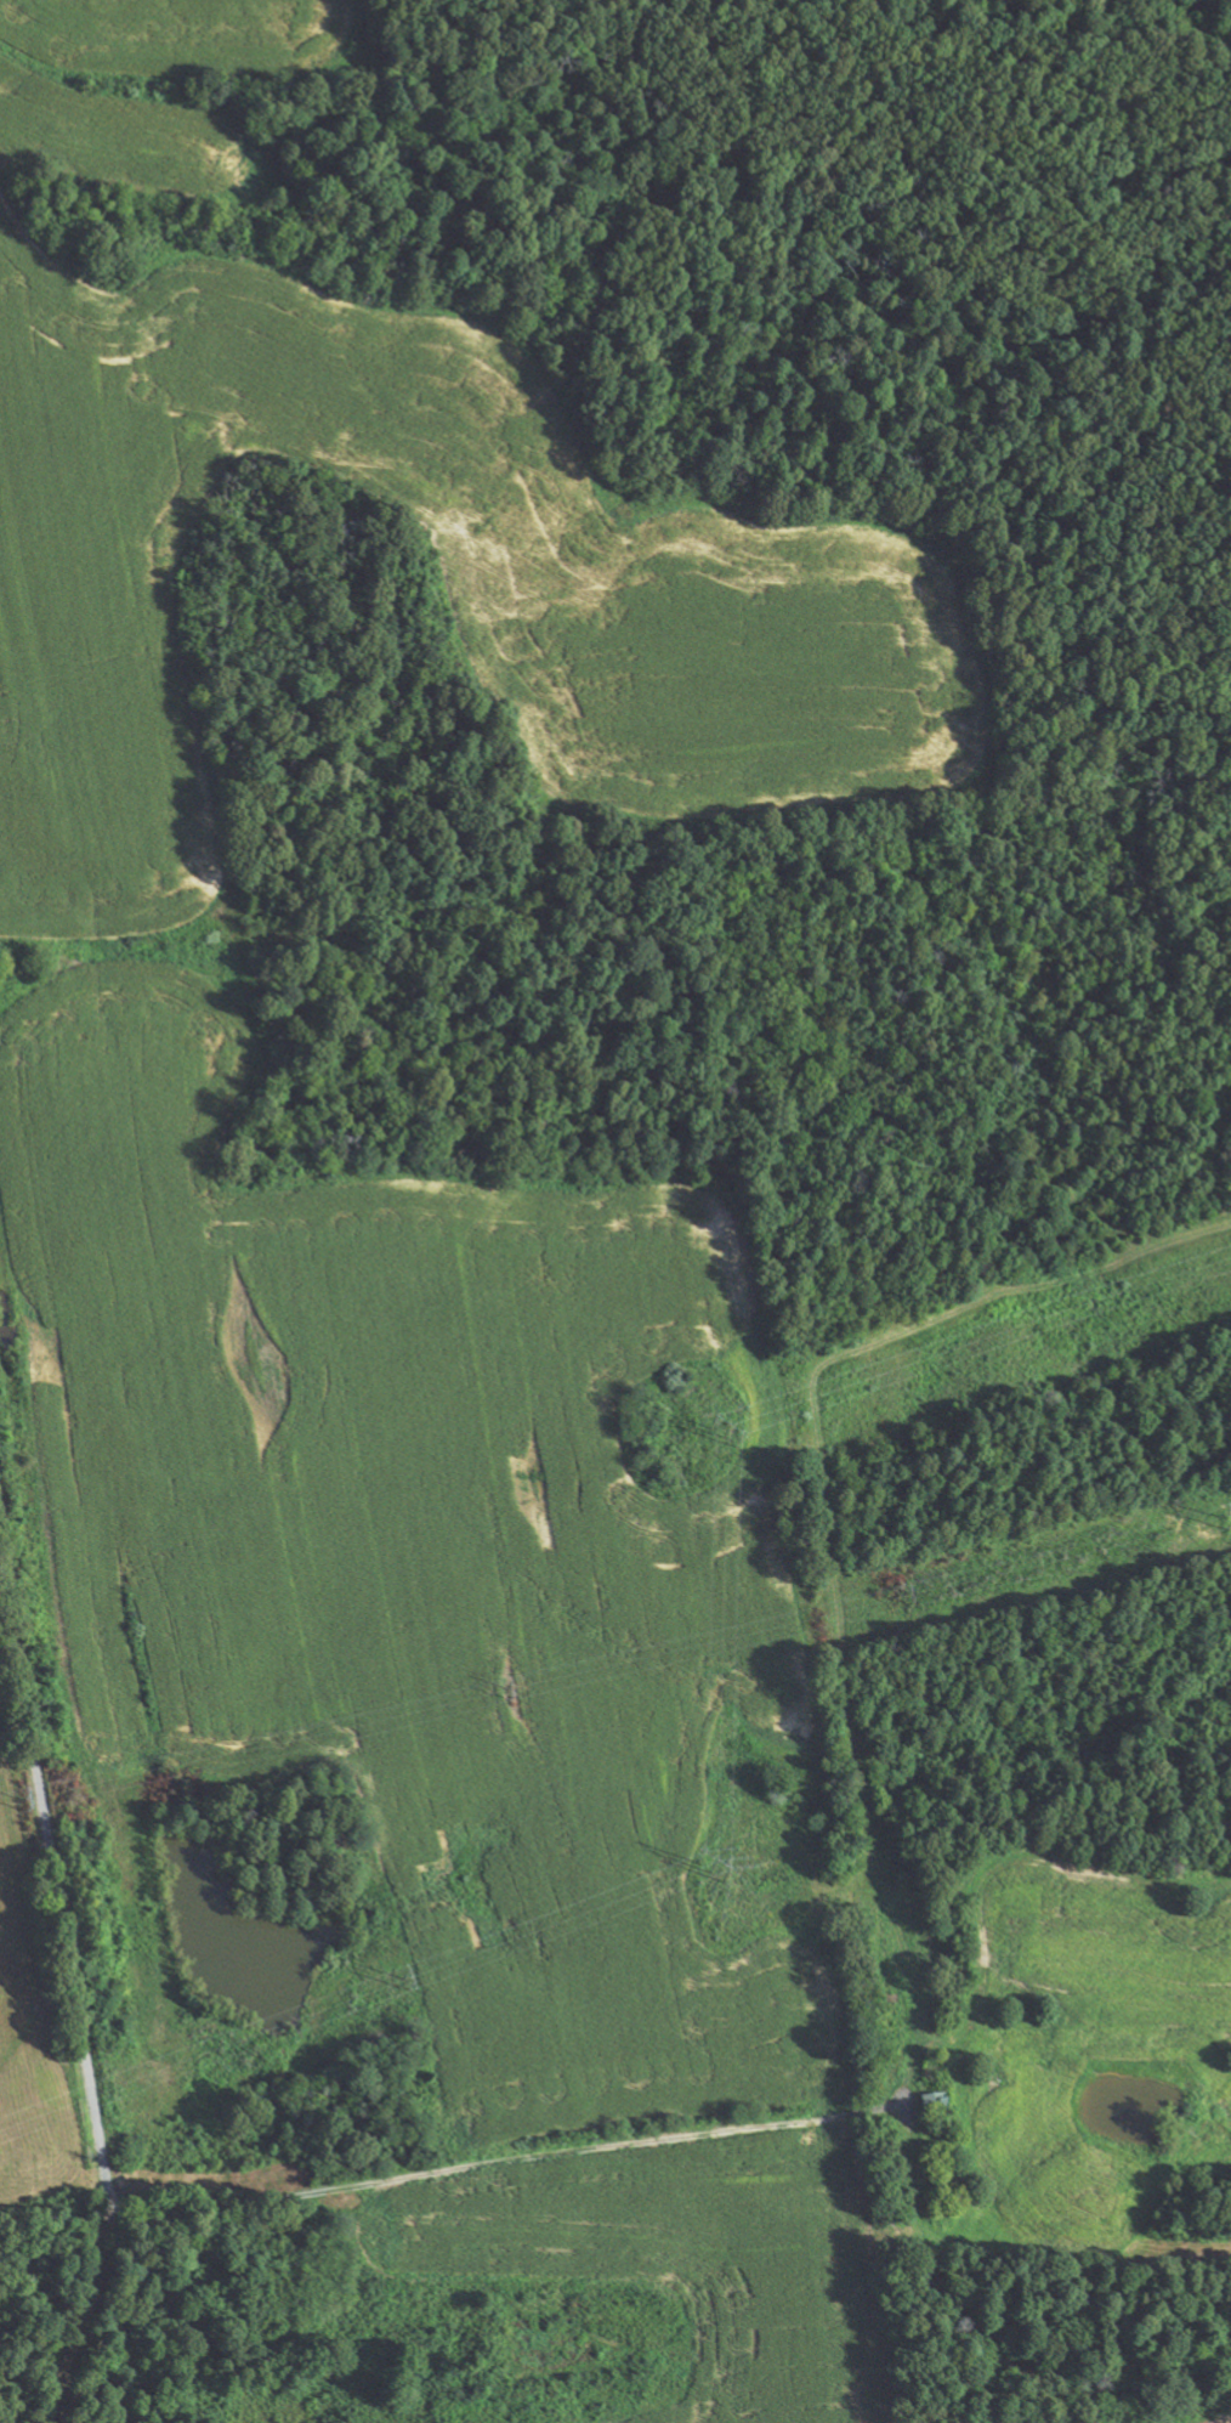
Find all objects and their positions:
road: (57, 1902)
building: (930, 2107)

